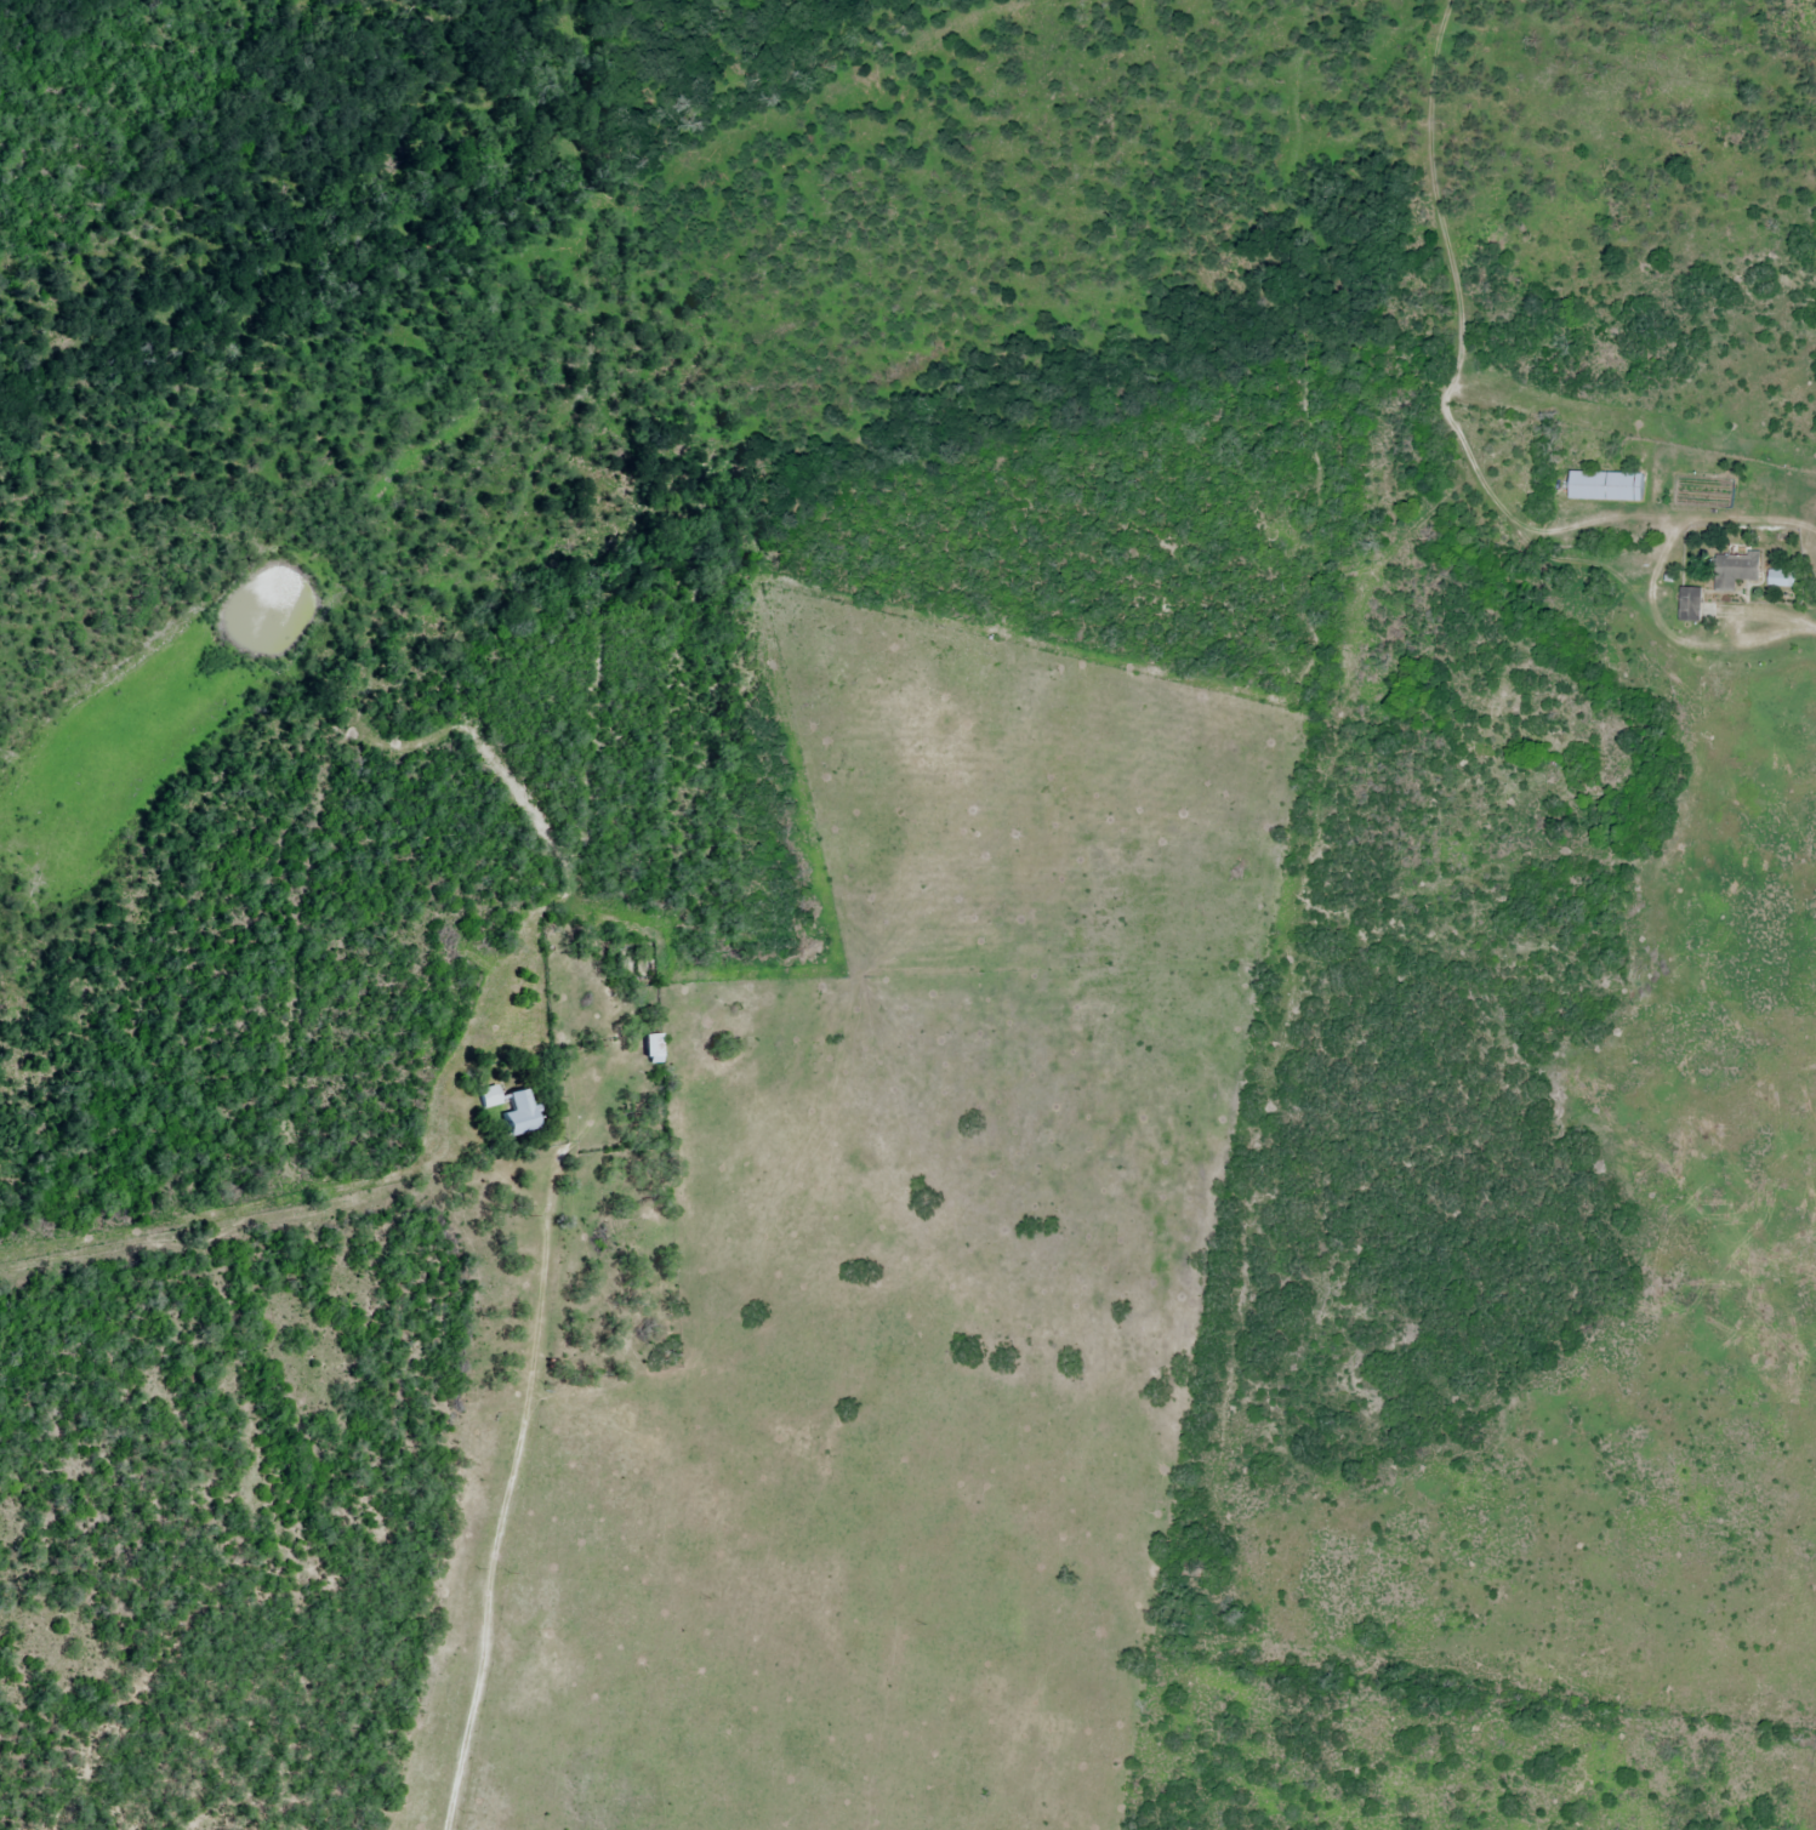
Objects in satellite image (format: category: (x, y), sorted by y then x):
building: (1610, 486)
building: (1741, 565)
building: (1691, 605)
building: (655, 1049)
building: (488, 1098)
building: (520, 1116)

